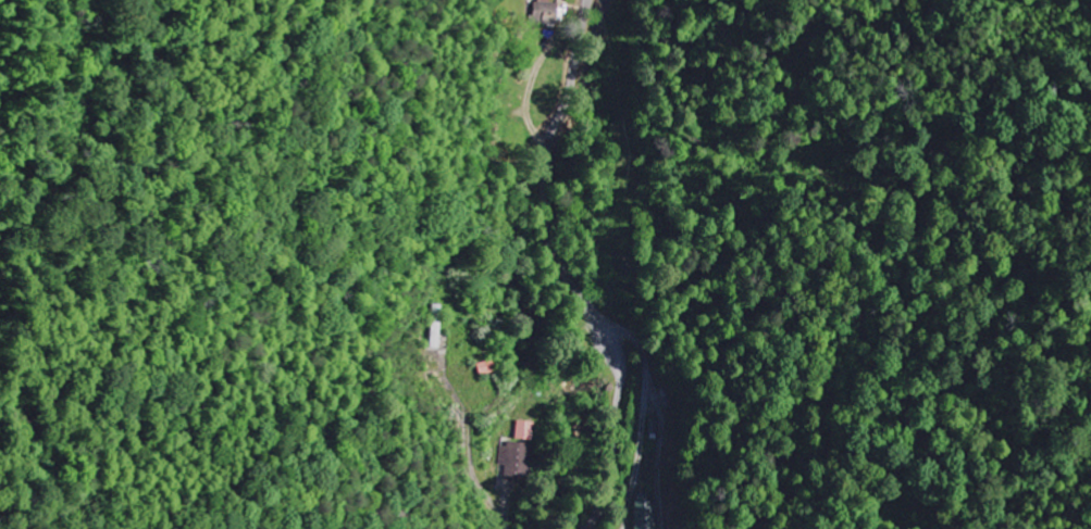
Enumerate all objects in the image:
building: (547, 12)
road: (563, 270)
building: (524, 431)
building: (517, 462)
building: (641, 513)

